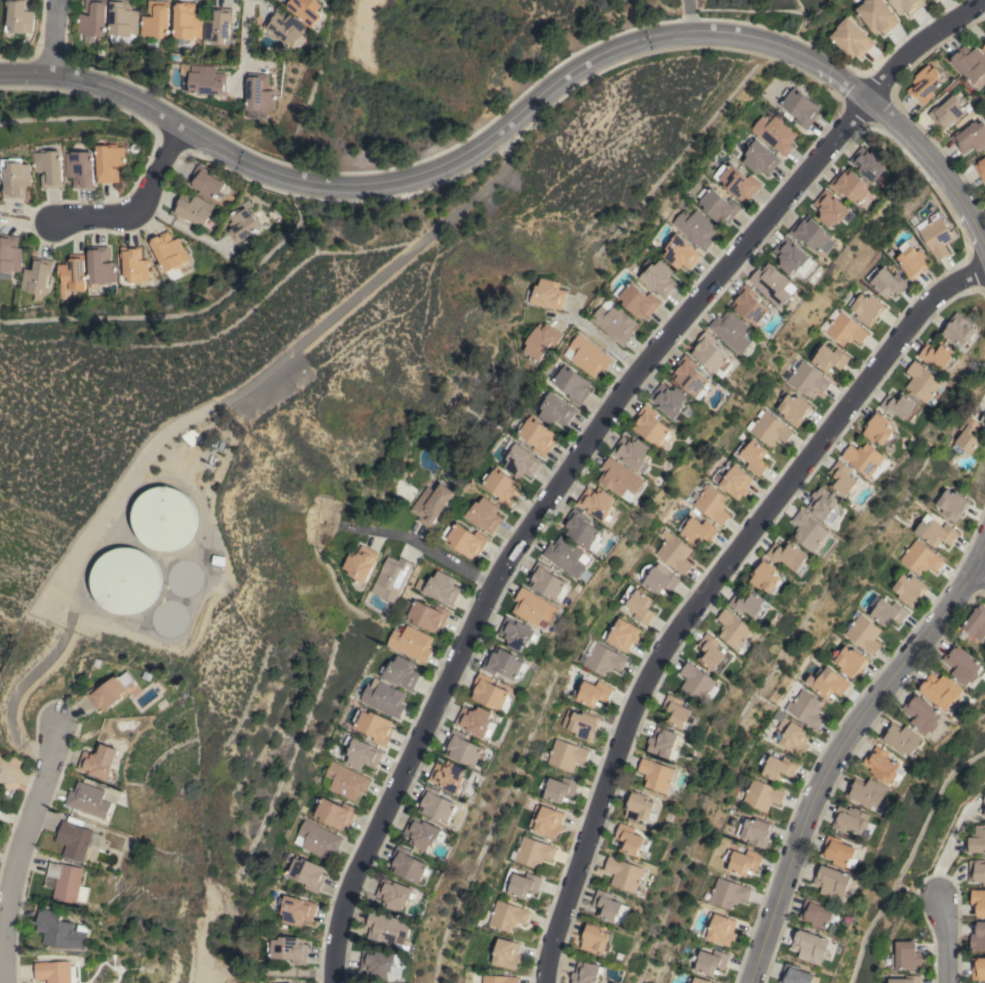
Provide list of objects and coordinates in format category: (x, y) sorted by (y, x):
building: (906, 5)
building: (304, 10)
building: (876, 15)
building: (21, 16)
road: (686, 16)
building: (123, 18)
building: (94, 21)
building: (155, 21)
building: (185, 23)
building: (217, 25)
building: (284, 29)
road: (52, 37)
building: (851, 38)
building: (984, 47)
building: (970, 63)
building: (206, 80)
building: (924, 84)
building: (258, 93)
building: (800, 108)
building: (947, 112)
building: (775, 133)
building: (970, 137)
building: (760, 157)
road: (446, 161)
building: (111, 162)
building: (870, 164)
road: (934, 167)
building: (52, 168)
building: (82, 168)
building: (981, 169)
building: (19, 177)
building: (736, 181)
building: (205, 182)
building: (851, 185)
road: (135, 204)
building: (716, 205)
building: (832, 208)
building: (191, 209)
building: (240, 225)
building: (695, 228)
building: (813, 233)
building: (935, 235)
building: (680, 252)
building: (167, 253)
building: (9, 255)
building: (793, 257)
building: (911, 260)
building: (99, 265)
building: (132, 266)
building: (72, 272)
building: (36, 277)
building: (657, 278)
building: (886, 281)
building: (774, 284)
building: (855, 291)
building: (545, 294)
building: (635, 299)
building: (751, 305)
building: (866, 309)
building: (613, 321)
building: (843, 328)
building: (959, 330)
building: (734, 331)
road: (600, 339)
building: (540, 341)
building: (711, 353)
building: (586, 355)
building: (939, 355)
building: (830, 358)
building: (691, 377)
building: (806, 378)
building: (924, 383)
building: (572, 385)
building: (669, 400)
building: (901, 405)
building: (792, 408)
building: (555, 410)
road: (196, 415)
building: (651, 426)
building: (769, 428)
building: (880, 429)
building: (536, 435)
building: (740, 435)
building: (969, 436)
road: (591, 450)
building: (632, 452)
building: (753, 456)
building: (519, 460)
building: (867, 460)
building: (620, 479)
building: (732, 479)
building: (844, 480)
building: (501, 486)
building: (429, 503)
building: (597, 503)
building: (712, 504)
building: (952, 504)
building: (825, 505)
building: (483, 515)
building: (163, 518)
building: (581, 528)
building: (810, 530)
building: (698, 531)
building: (935, 531)
building: (463, 540)
road: (427, 549)
building: (674, 552)
building: (790, 556)
building: (565, 557)
building: (920, 558)
building: (360, 564)
road: (977, 574)
building: (766, 576)
building: (658, 577)
building: (181, 578)
building: (390, 578)
building: (124, 580)
building: (547, 582)
building: (439, 587)
building: (909, 589)
road: (712, 590)
building: (637, 604)
building: (751, 604)
building: (534, 608)
building: (886, 611)
building: (426, 616)
building: (168, 618)
building: (976, 623)
building: (735, 629)
building: (516, 634)
building: (622, 634)
building: (863, 634)
building: (410, 642)
building: (714, 654)
building: (601, 658)
building: (849, 661)
building: (503, 663)
building: (961, 664)
building: (400, 672)
building: (827, 682)
building: (699, 683)
building: (939, 690)
building: (111, 691)
building: (489, 692)
building: (591, 693)
building: (788, 695)
building: (383, 698)
building: (806, 709)
building: (679, 712)
building: (921, 714)
building: (474, 720)
building: (581, 724)
building: (372, 726)
building: (791, 736)
building: (900, 738)
building: (665, 743)
road: (840, 744)
building: (462, 748)
building: (360, 754)
building: (566, 755)
building: (99, 761)
building: (883, 766)
building: (778, 767)
building: (657, 774)
building: (448, 776)
building: (343, 781)
building: (0, 788)
building: (558, 789)
building: (866, 792)
building: (761, 795)
building: (984, 799)
building: (88, 800)
building: (435, 805)
building: (639, 805)
building: (333, 813)
building: (984, 813)
building: (852, 819)
building: (545, 821)
building: (755, 831)
building: (421, 833)
building: (315, 839)
building: (631, 840)
building: (975, 840)
building: (74, 841)
building: (838, 851)
building: (531, 852)
road: (20, 856)
building: (285, 857)
building: (742, 861)
building: (407, 865)
building: (976, 871)
building: (306, 873)
building: (626, 874)
building: (65, 882)
building: (833, 882)
building: (520, 884)
building: (728, 892)
building: (393, 894)
building: (978, 901)
building: (610, 907)
building: (295, 910)
building: (817, 913)
building: (506, 915)
building: (838, 917)
building: (385, 928)
building: (59, 930)
building: (721, 930)
building: (978, 936)
building: (595, 938)
road: (943, 938)
building: (810, 946)
building: (288, 949)
building: (506, 953)
building: (905, 955)
building: (621, 956)
building: (709, 961)
building: (377, 963)
building: (978, 969)
building: (52, 971)
building: (587, 973)
building: (797, 975)
building: (497, 979)
building: (906, 979)
building: (698, 980)

